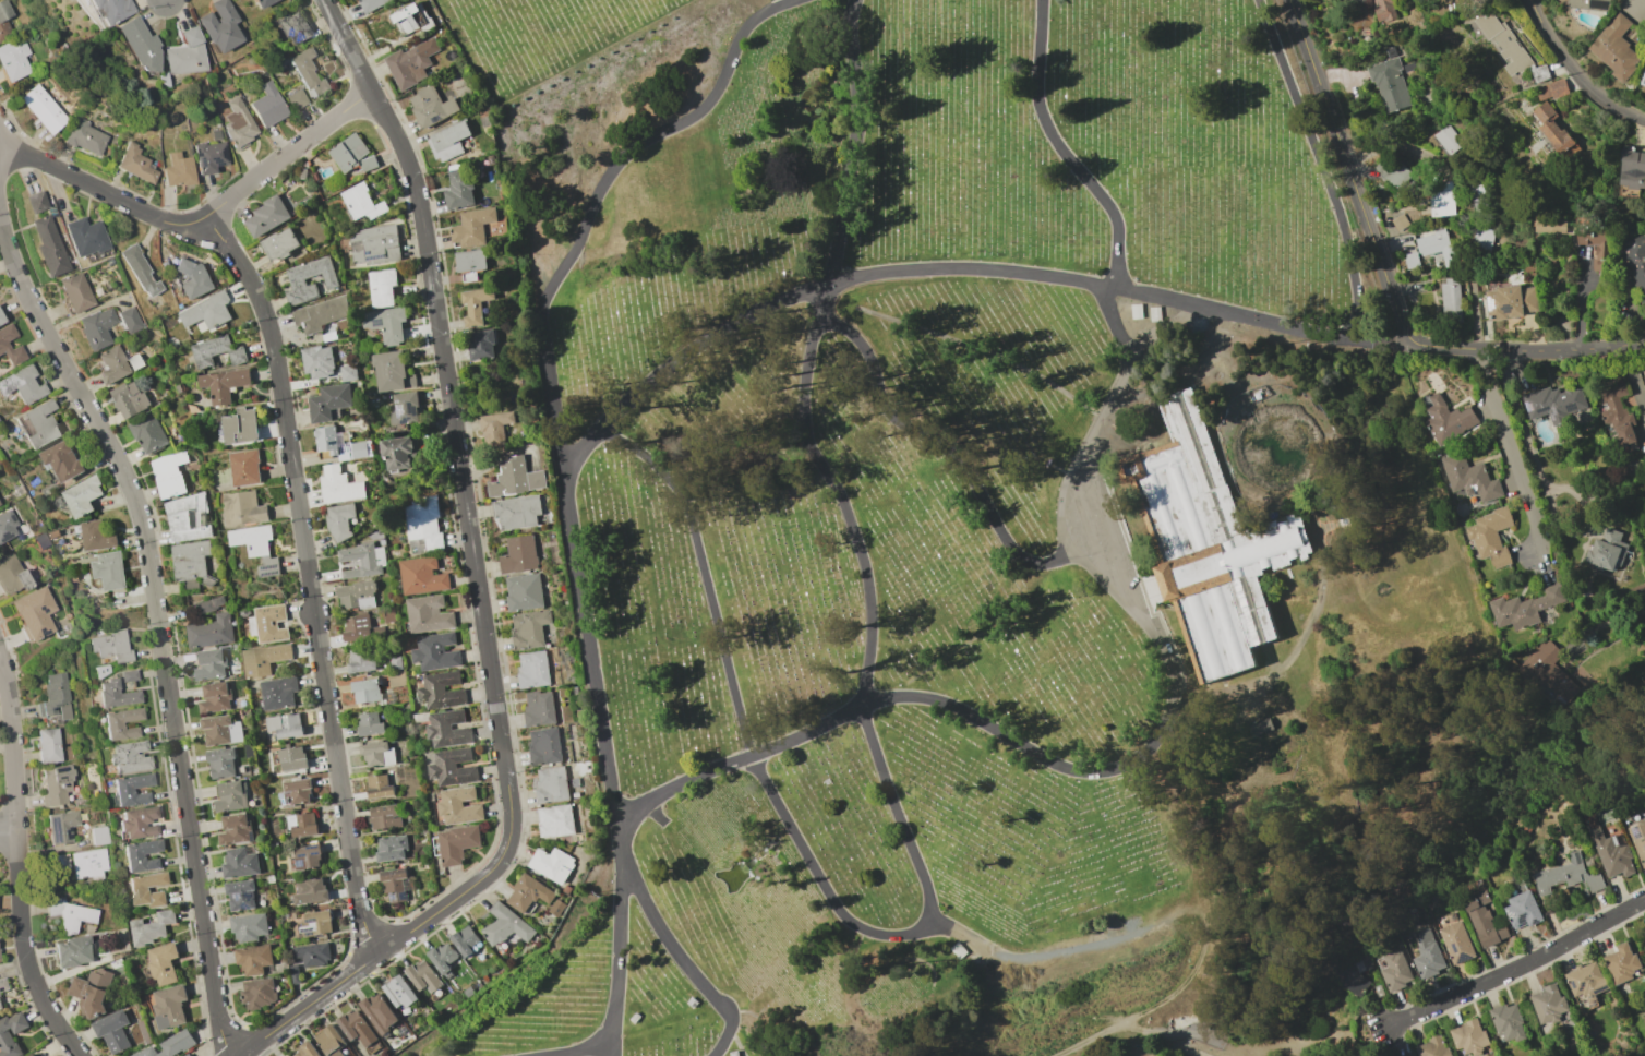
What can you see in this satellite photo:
building: (351, 0)
building: (263, 2)
building: (371, 4)
building: (1590, 4)
building: (112, 9)
building: (1383, 10)
building: (416, 19)
building: (5, 21)
building: (220, 25)
building: (292, 26)
building: (440, 28)
building: (1499, 41)
building: (141, 44)
building: (1614, 48)
building: (187, 53)
building: (15, 58)
building: (408, 65)
building: (309, 72)
road: (1574, 72)
building: (1539, 73)
building: (164, 79)
building: (1643, 82)
building: (1390, 85)
building: (1551, 88)
building: (298, 99)
building: (268, 106)
building: (431, 106)
building: (44, 109)
building: (483, 118)
building: (240, 124)
building: (1553, 131)
building: (217, 134)
building: (139, 135)
building: (85, 136)
building: (115, 139)
building: (1446, 140)
building: (448, 141)
road: (286, 153)
building: (352, 154)
building: (209, 156)
road: (34, 157)
building: (490, 159)
building: (136, 164)
road: (1324, 165)
building: (1631, 168)
building: (179, 169)
road: (1355, 172)
building: (1392, 172)
building: (302, 173)
road: (85, 182)
building: (460, 188)
building: (1478, 196)
building: (1440, 201)
building: (37, 202)
road: (124, 202)
building: (362, 203)
road: (152, 216)
building: (267, 216)
road: (182, 224)
building: (1548, 225)
building: (472, 227)
building: (86, 237)
building: (1480, 239)
building: (279, 244)
building: (375, 244)
building: (1436, 245)
building: (1595, 247)
building: (50, 248)
building: (470, 263)
building: (1635, 263)
building: (140, 269)
road: (15, 271)
road: (964, 273)
building: (194, 277)
building: (297, 280)
building: (382, 287)
building: (76, 292)
building: (1450, 297)
building: (1509, 302)
building: (476, 304)
building: (207, 311)
building: (320, 314)
building: (1, 317)
building: (131, 320)
building: (386, 323)
building: (98, 328)
building: (334, 336)
building: (480, 345)
building: (4, 347)
building: (216, 351)
road: (1529, 351)
building: (136, 361)
building: (317, 361)
building: (113, 364)
building: (392, 371)
building: (348, 372)
building: (1644, 376)
road: (444, 382)
building: (23, 384)
building: (224, 384)
road: (74, 385)
building: (177, 389)
building: (129, 399)
building: (329, 403)
building: (1552, 404)
building: (404, 410)
building: (1617, 410)
building: (1448, 420)
building: (41, 424)
building: (240, 427)
building: (494, 428)
building: (148, 434)
building: (331, 439)
building: (358, 448)
building: (398, 452)
road: (1508, 454)
road: (958, 457)
building: (61, 460)
building: (245, 467)
building: (169, 475)
building: (515, 478)
building: (1469, 478)
building: (338, 485)
building: (53, 487)
road: (573, 492)
building: (82, 496)
road: (133, 501)
building: (242, 508)
building: (516, 512)
building: (188, 517)
building: (339, 520)
building: (423, 527)
building: (65, 530)
park: (976, 530)
building: (7, 531)
building: (53, 533)
building: (96, 536)
building: (1490, 536)
road: (300, 538)
building: (41, 541)
building: (381, 542)
building: (256, 548)
building: (1215, 551)
building: (1606, 551)
building: (518, 555)
building: (362, 560)
building: (191, 565)
building: (109, 569)
building: (14, 575)
building: (422, 576)
road: (151, 581)
building: (524, 591)
building: (357, 595)
building: (208, 605)
building: (1524, 608)
building: (36, 613)
building: (429, 614)
building: (388, 615)
building: (269, 623)
building: (357, 627)
building: (528, 628)
building: (211, 632)
road: (158, 635)
road: (1161, 641)
building: (113, 646)
building: (435, 652)
building: (264, 660)
building: (361, 660)
building: (395, 662)
building: (211, 664)
building: (532, 669)
building: (1548, 674)
building: (130, 675)
building: (396, 679)
building: (365, 691)
building: (441, 691)
building: (117, 694)
building: (278, 694)
building: (216, 697)
building: (57, 698)
building: (538, 708)
building: (418, 717)
building: (115, 723)
building: (370, 724)
building: (286, 725)
building: (1259, 727)
building: (447, 729)
building: (220, 730)
building: (50, 745)
building: (543, 745)
building: (248, 749)
building: (377, 754)
building: (131, 756)
building: (290, 758)
building: (221, 763)
building: (453, 768)
road: (885, 777)
building: (58, 784)
building: (550, 784)
building: (379, 788)
building: (132, 789)
building: (299, 790)
building: (231, 796)
road: (13, 806)
building: (458, 806)
building: (385, 816)
building: (554, 820)
building: (139, 823)
building: (302, 824)
building: (62, 826)
building: (236, 829)
road: (8, 830)
building: (419, 835)
building: (99, 836)
building: (1637, 840)
building: (455, 844)
building: (392, 848)
building: (1611, 853)
building: (143, 855)
road: (191, 855)
building: (305, 856)
building: (61, 862)
building: (91, 863)
building: (240, 863)
building: (551, 864)
building: (1568, 876)
building: (271, 879)
building: (396, 884)
building: (140, 889)
building: (311, 891)
building: (528, 893)
building: (240, 895)
building: (1521, 910)
building: (71, 914)
road: (360, 916)
building: (1484, 920)
building: (315, 924)
building: (505, 925)
building: (151, 927)
building: (249, 927)
road: (1173, 928)
road: (401, 935)
building: (465, 940)
building: (1456, 943)
building: (74, 951)
building: (312, 953)
building: (961, 953)
building: (1427, 953)
building: (0, 957)
building: (443, 957)
building: (254, 958)
building: (117, 961)
road: (686, 961)
building: (1621, 962)
building: (163, 963)
road: (1518, 969)
building: (1394, 970)
building: (295, 973)
building: (423, 976)
building: (484, 977)
building: (1354, 983)
building: (2, 985)
building: (1585, 985)
building: (399, 992)
building: (468, 992)
building: (93, 993)
building: (257, 993)
building: (1547, 1004)
building: (0, 1006)
building: (170, 1006)
road: (46, 1008)
building: (380, 1012)
building: (1506, 1022)
building: (357, 1028)
building: (113, 1031)
building: (4, 1032)
building: (144, 1032)
building: (1468, 1037)
building: (332, 1041)
building: (170, 1045)
building: (1431, 1047)
road: (616, 1048)
building: (307, 1049)
building: (32, 1055)
building: (188, 1055)

